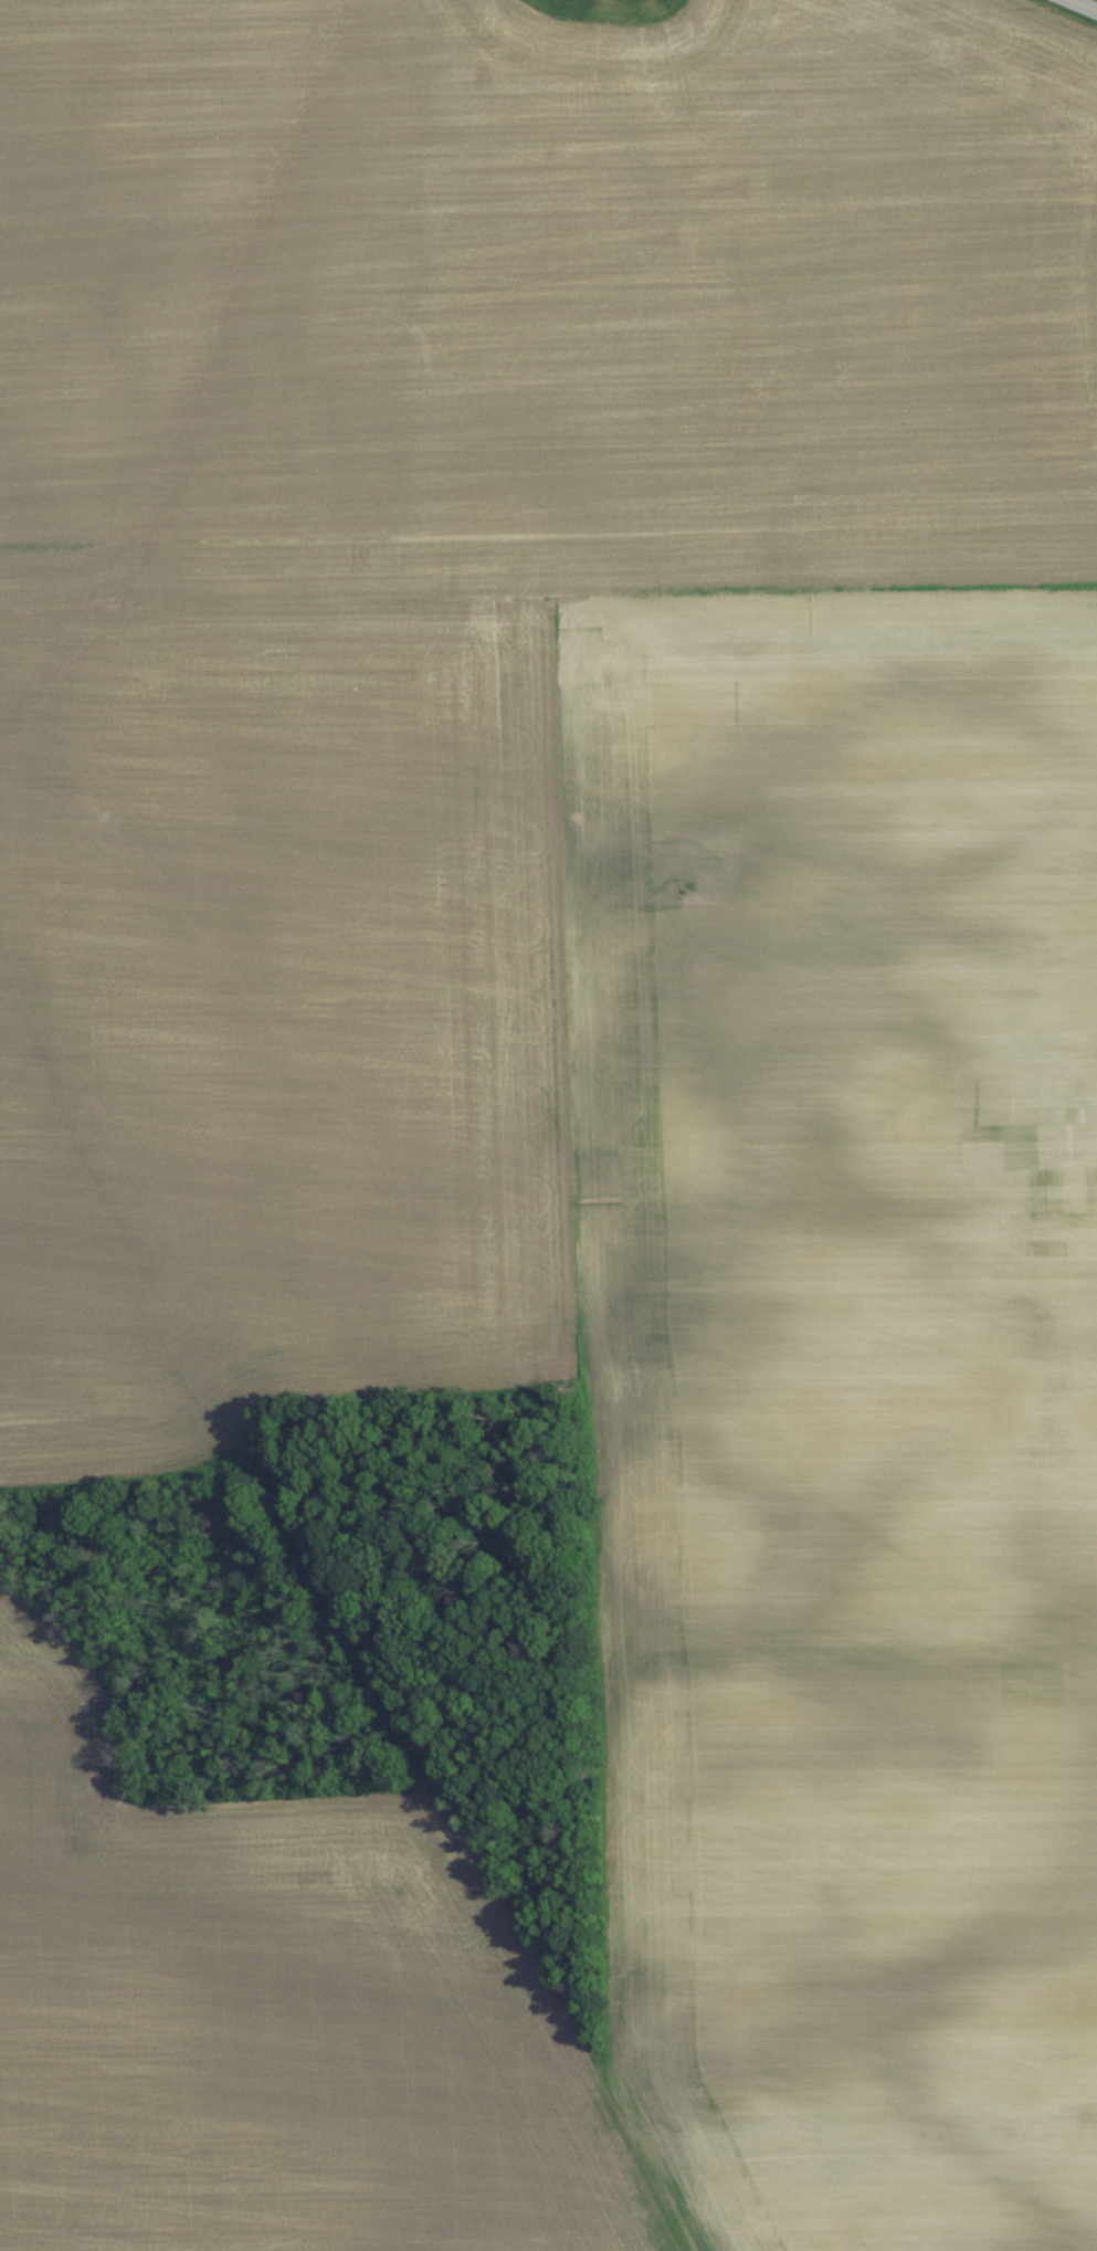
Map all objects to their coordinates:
road: (1082, 6)

